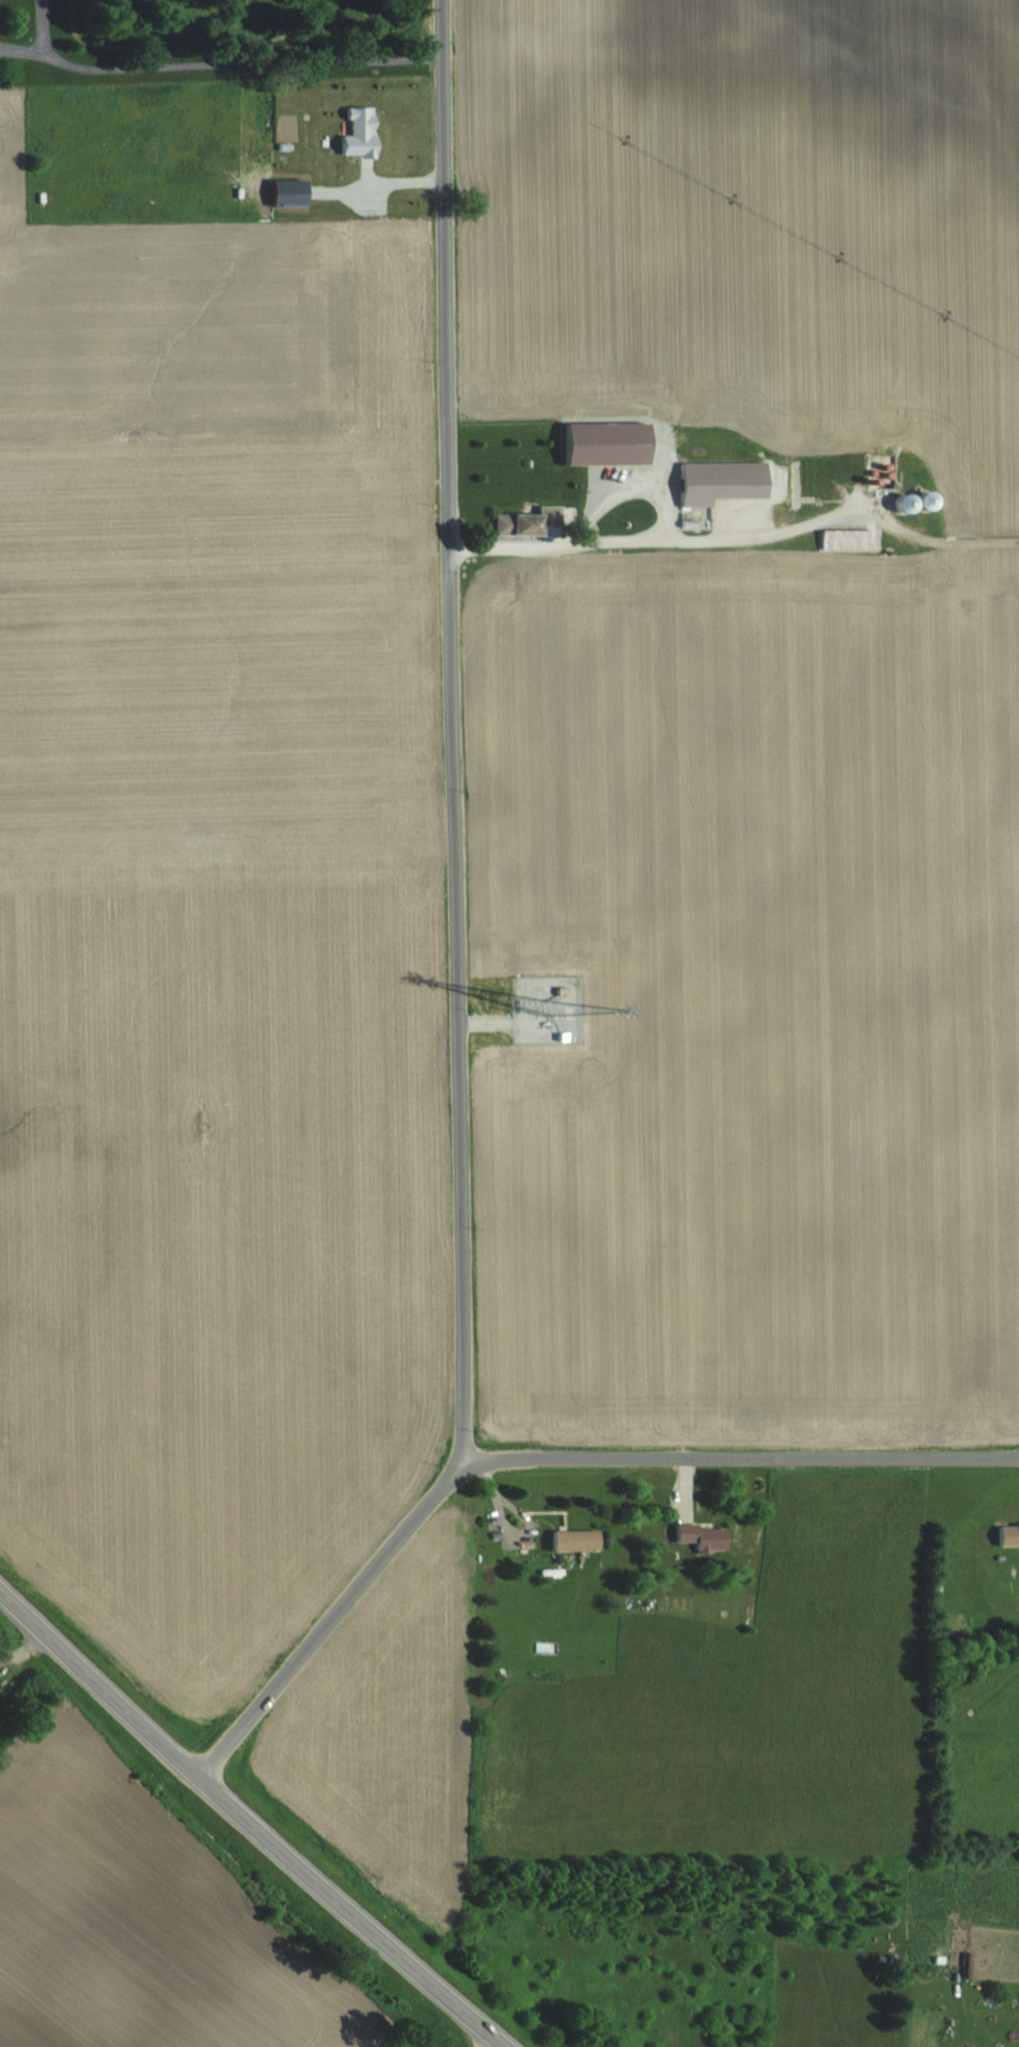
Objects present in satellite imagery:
road: (220, 52)
building: (356, 133)
road: (379, 183)
building: (611, 445)
building: (879, 454)
building: (718, 481)
building: (515, 523)
road: (660, 536)
building: (838, 539)
road: (452, 734)
building: (560, 1008)
road: (536, 1456)
road: (506, 1530)
building: (1006, 1533)
building: (700, 1537)
building: (571, 1540)
road: (98, 1684)
road: (349, 1914)
building: (966, 1964)

